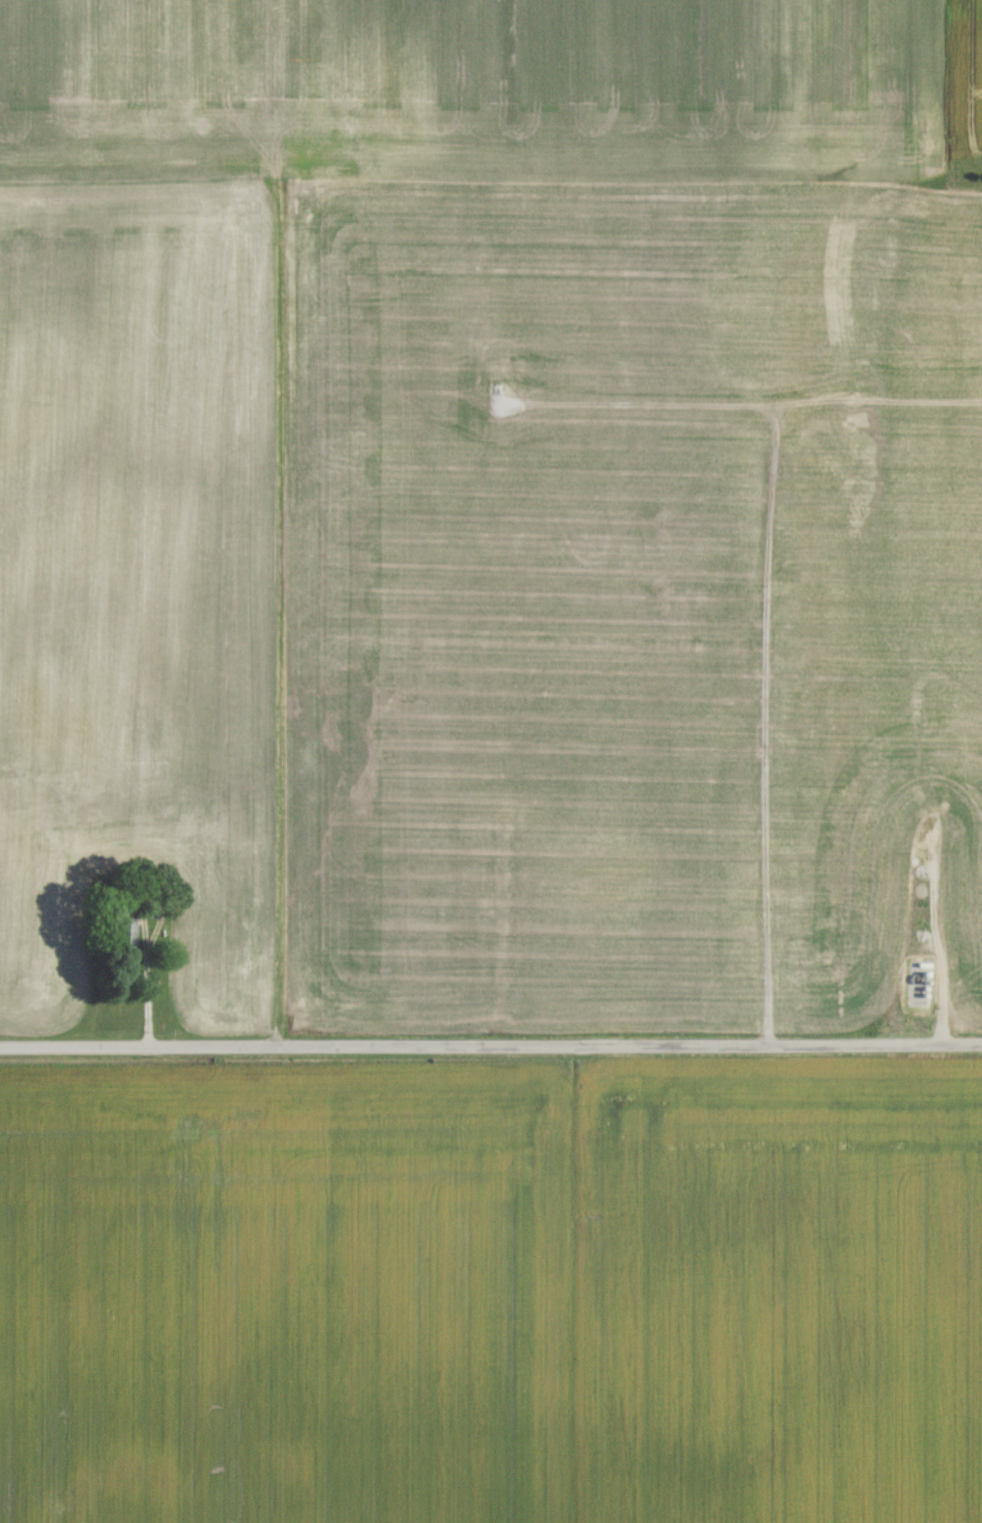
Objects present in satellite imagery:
road: (773, 626)
building: (124, 938)
road: (490, 1051)

